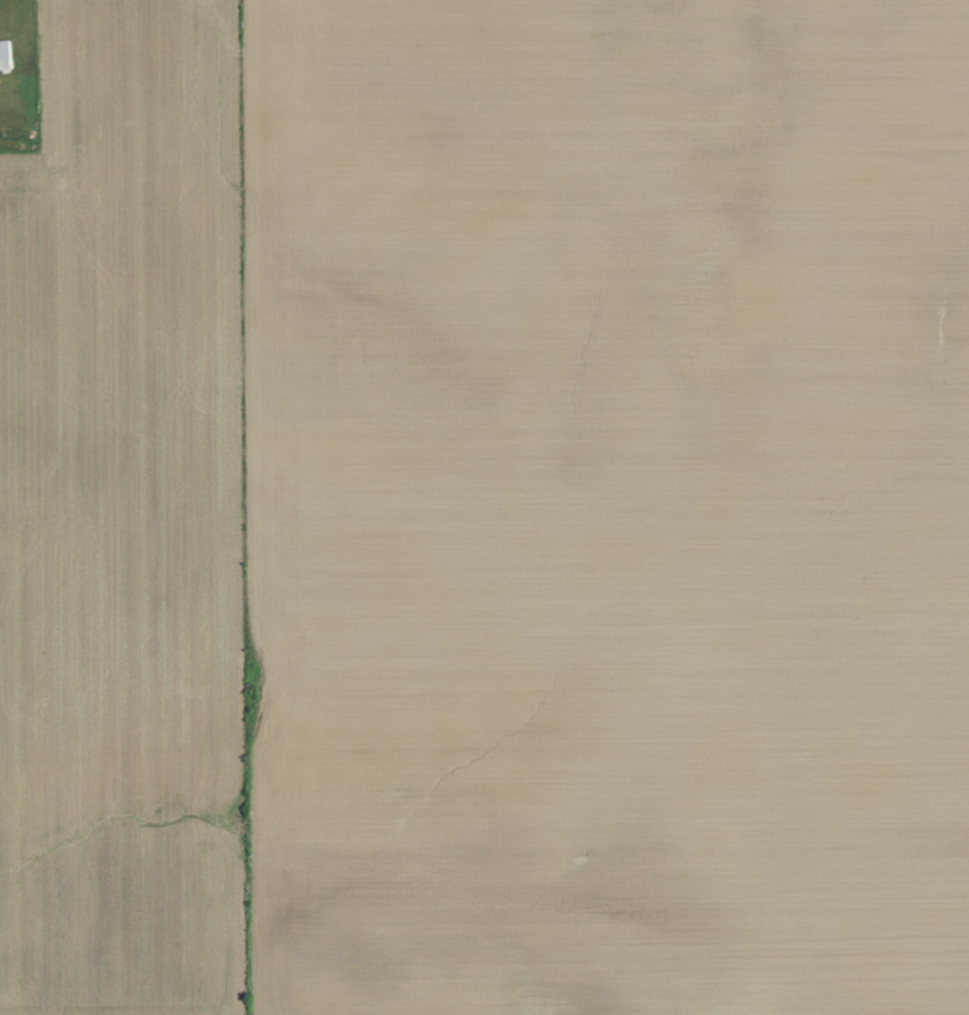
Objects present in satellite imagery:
building: (4, 54)

